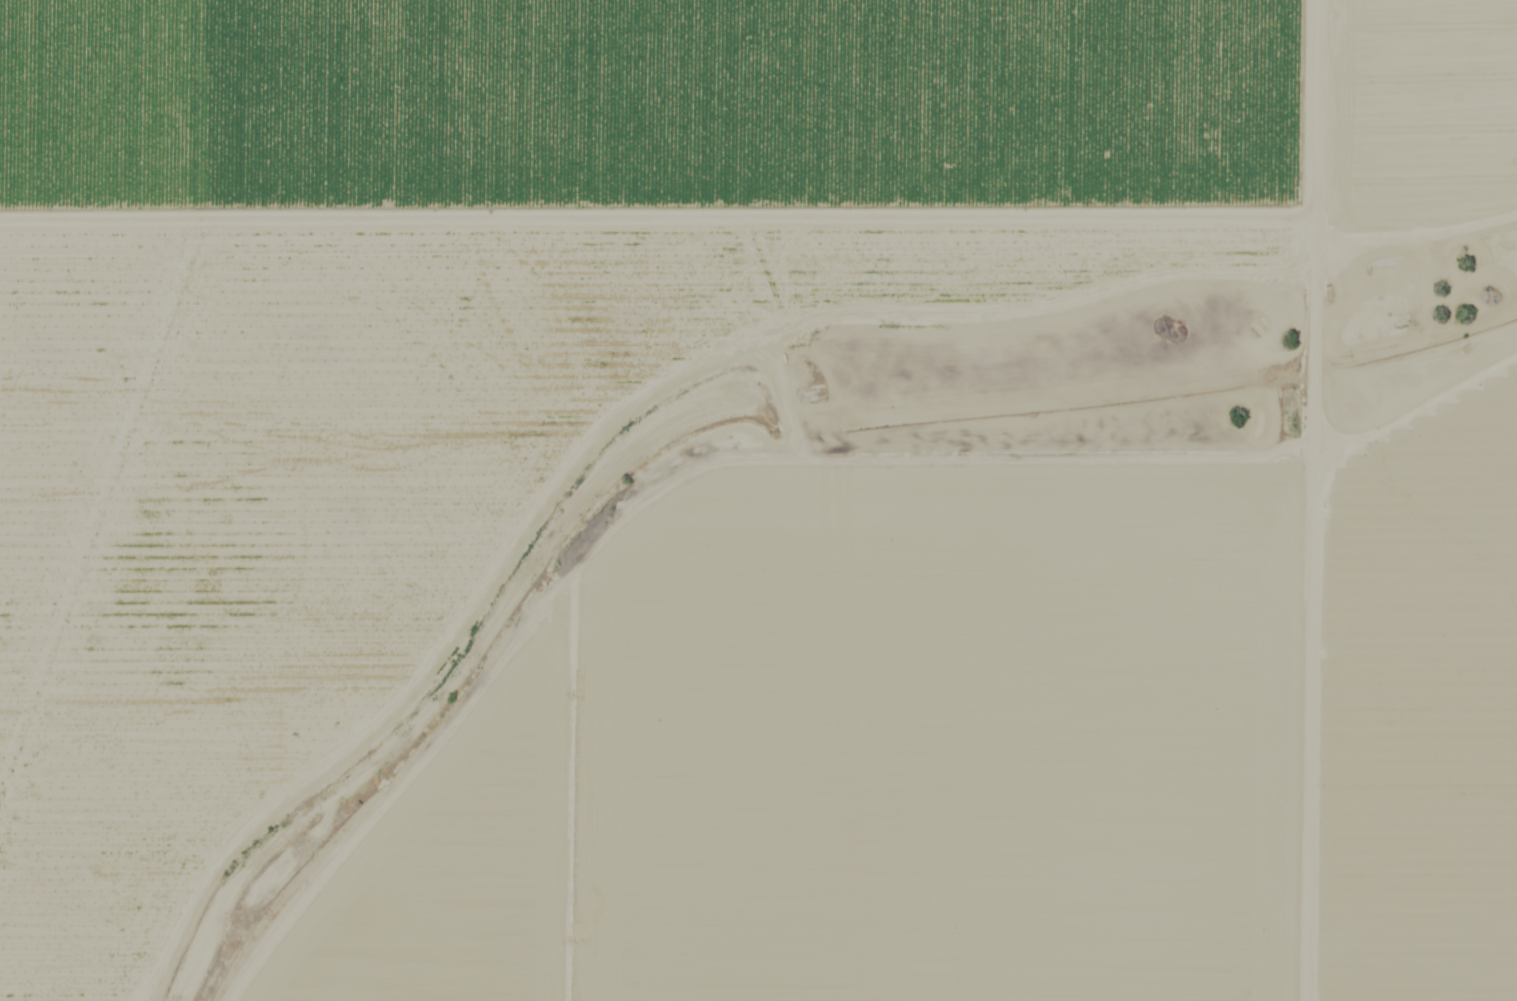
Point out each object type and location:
crop: (1420, 105)
crop: (661, 106)
road: (673, 344)
crop: (1419, 605)
crop: (857, 686)

